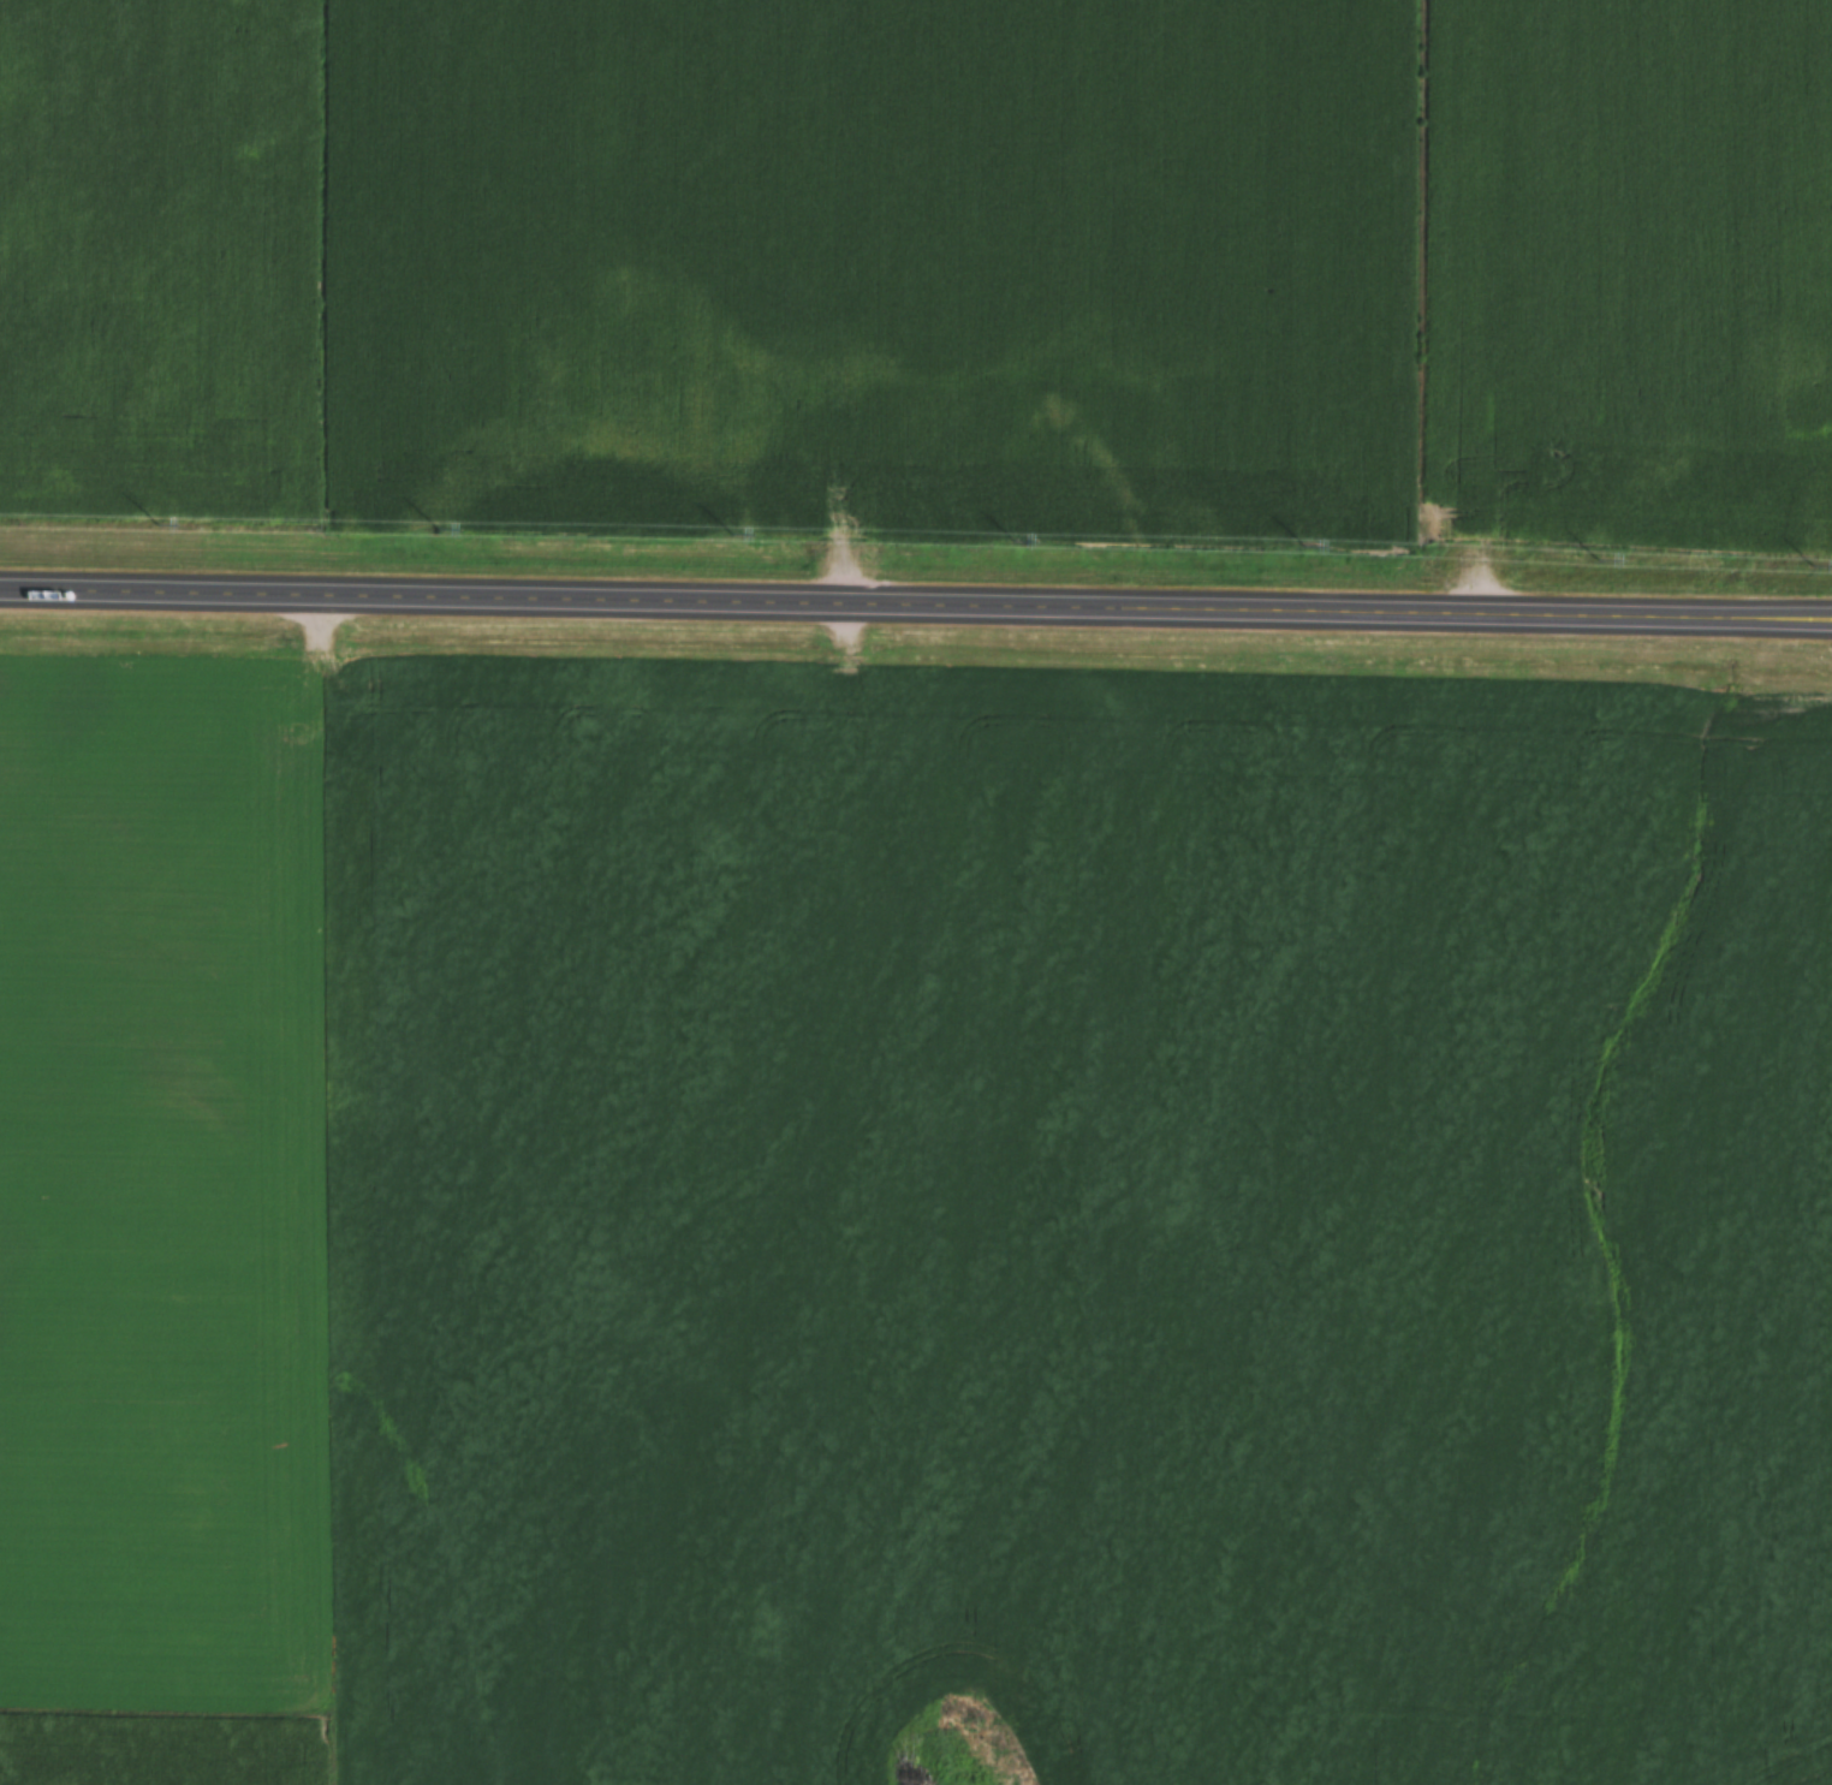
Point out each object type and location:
road: (916, 601)

